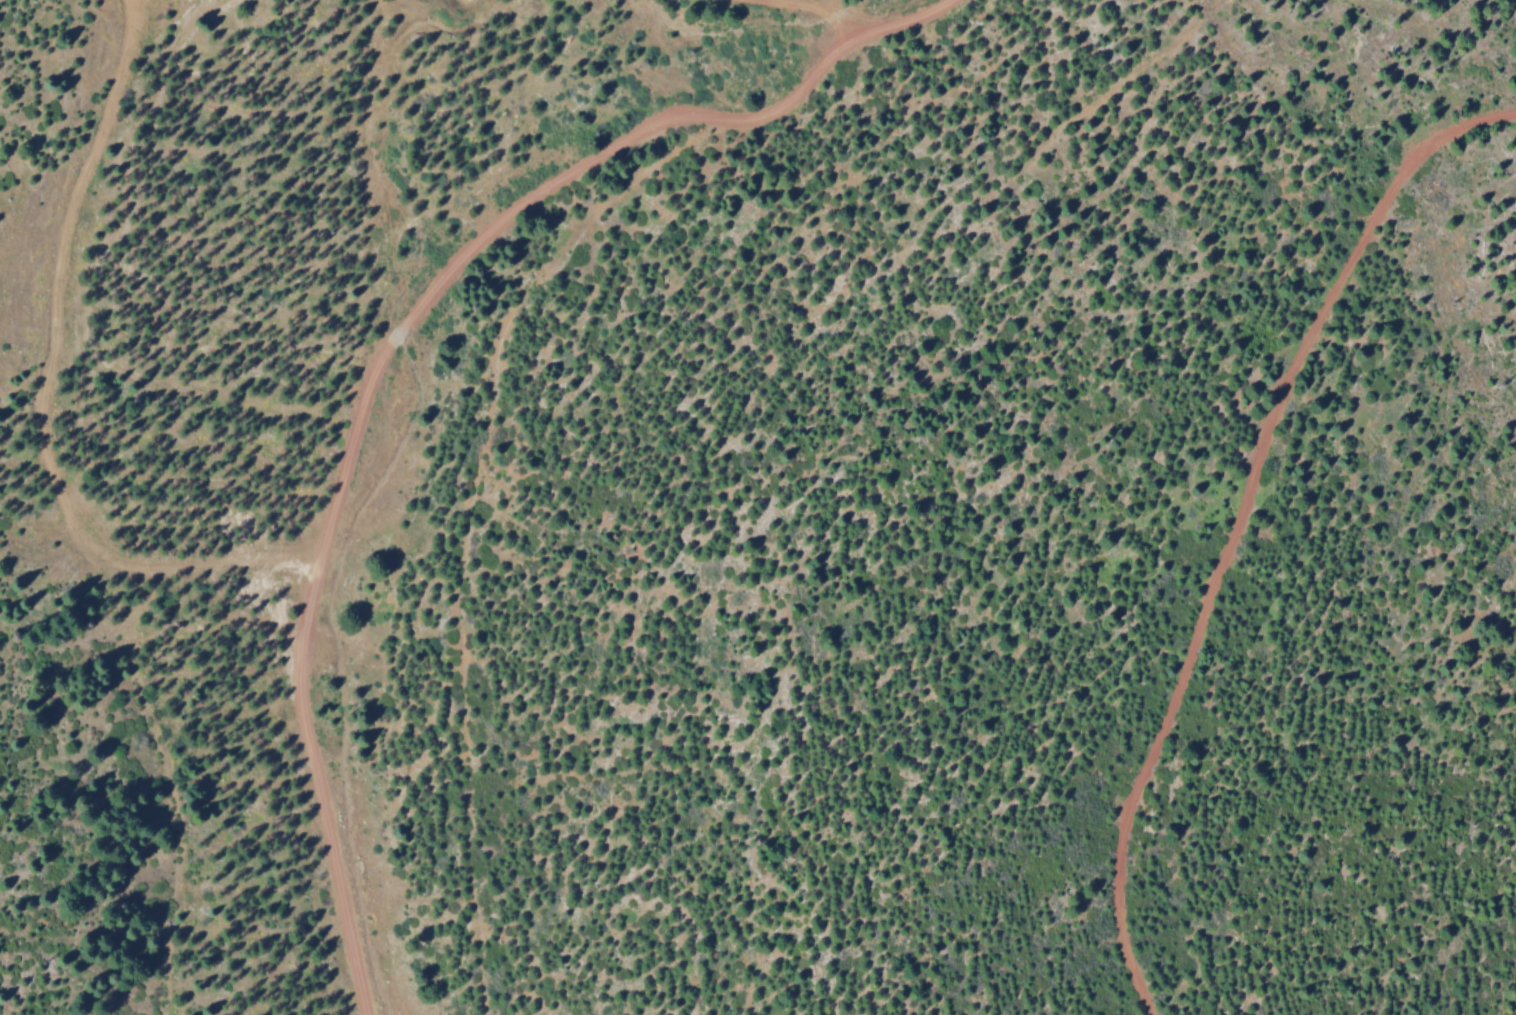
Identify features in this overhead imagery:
road: (806, 16)
road: (909, 19)
road: (1109, 87)
road: (58, 310)
road: (368, 392)
road: (1238, 520)
road: (140, 709)

